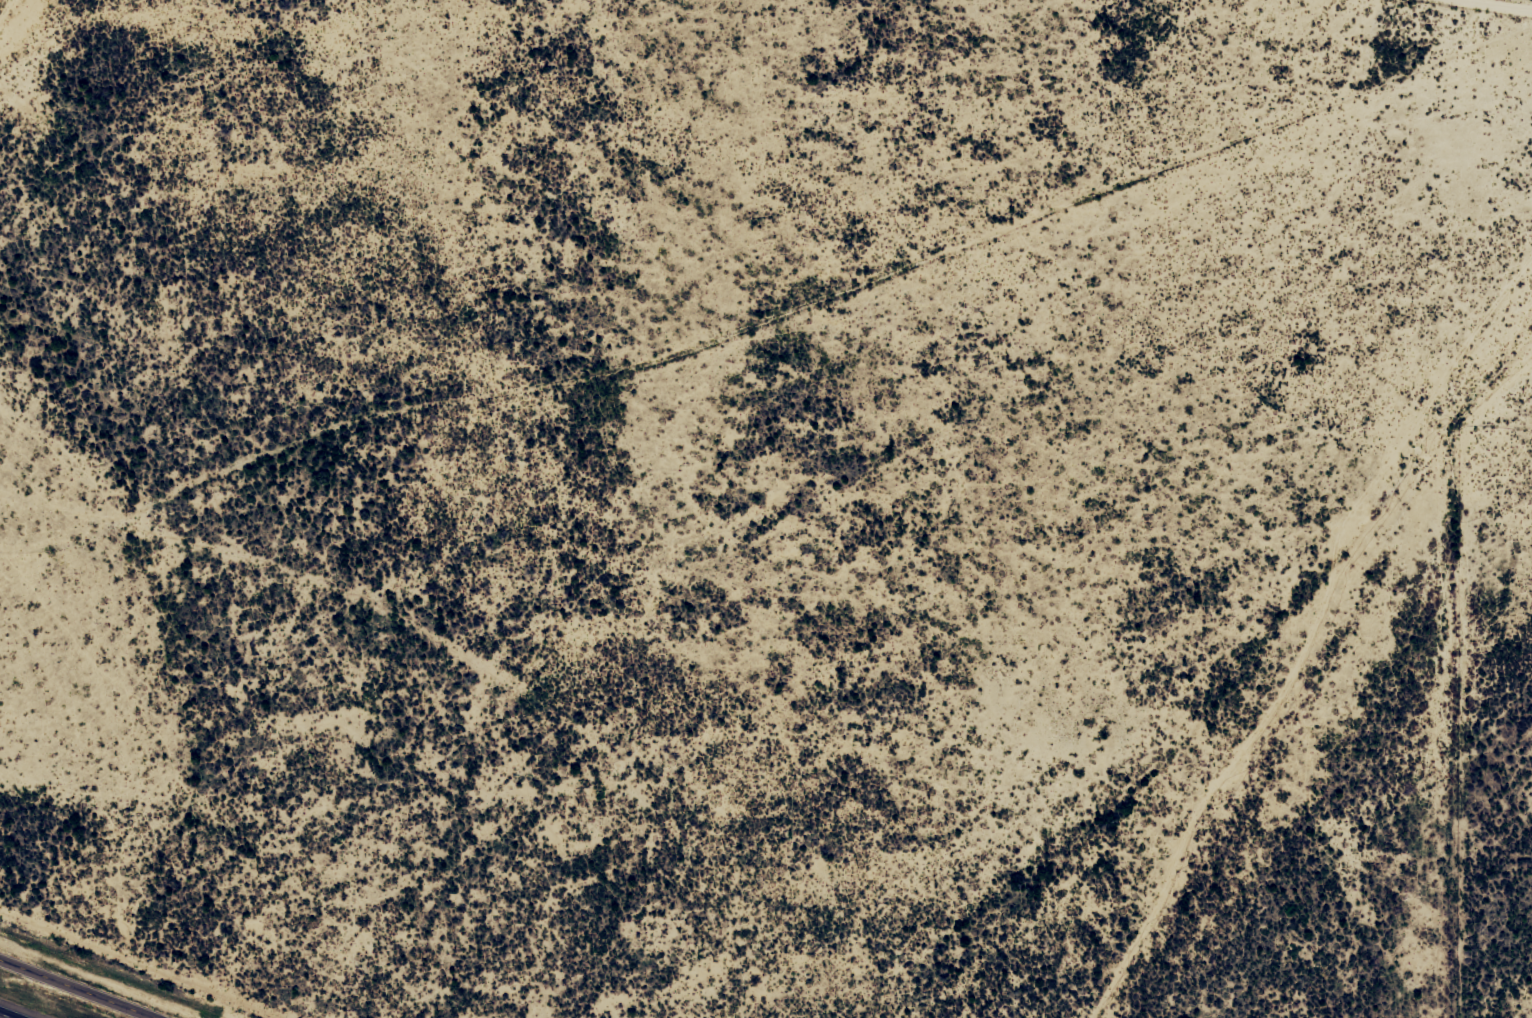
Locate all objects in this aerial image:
road: (82, 986)
road: (16, 1011)

